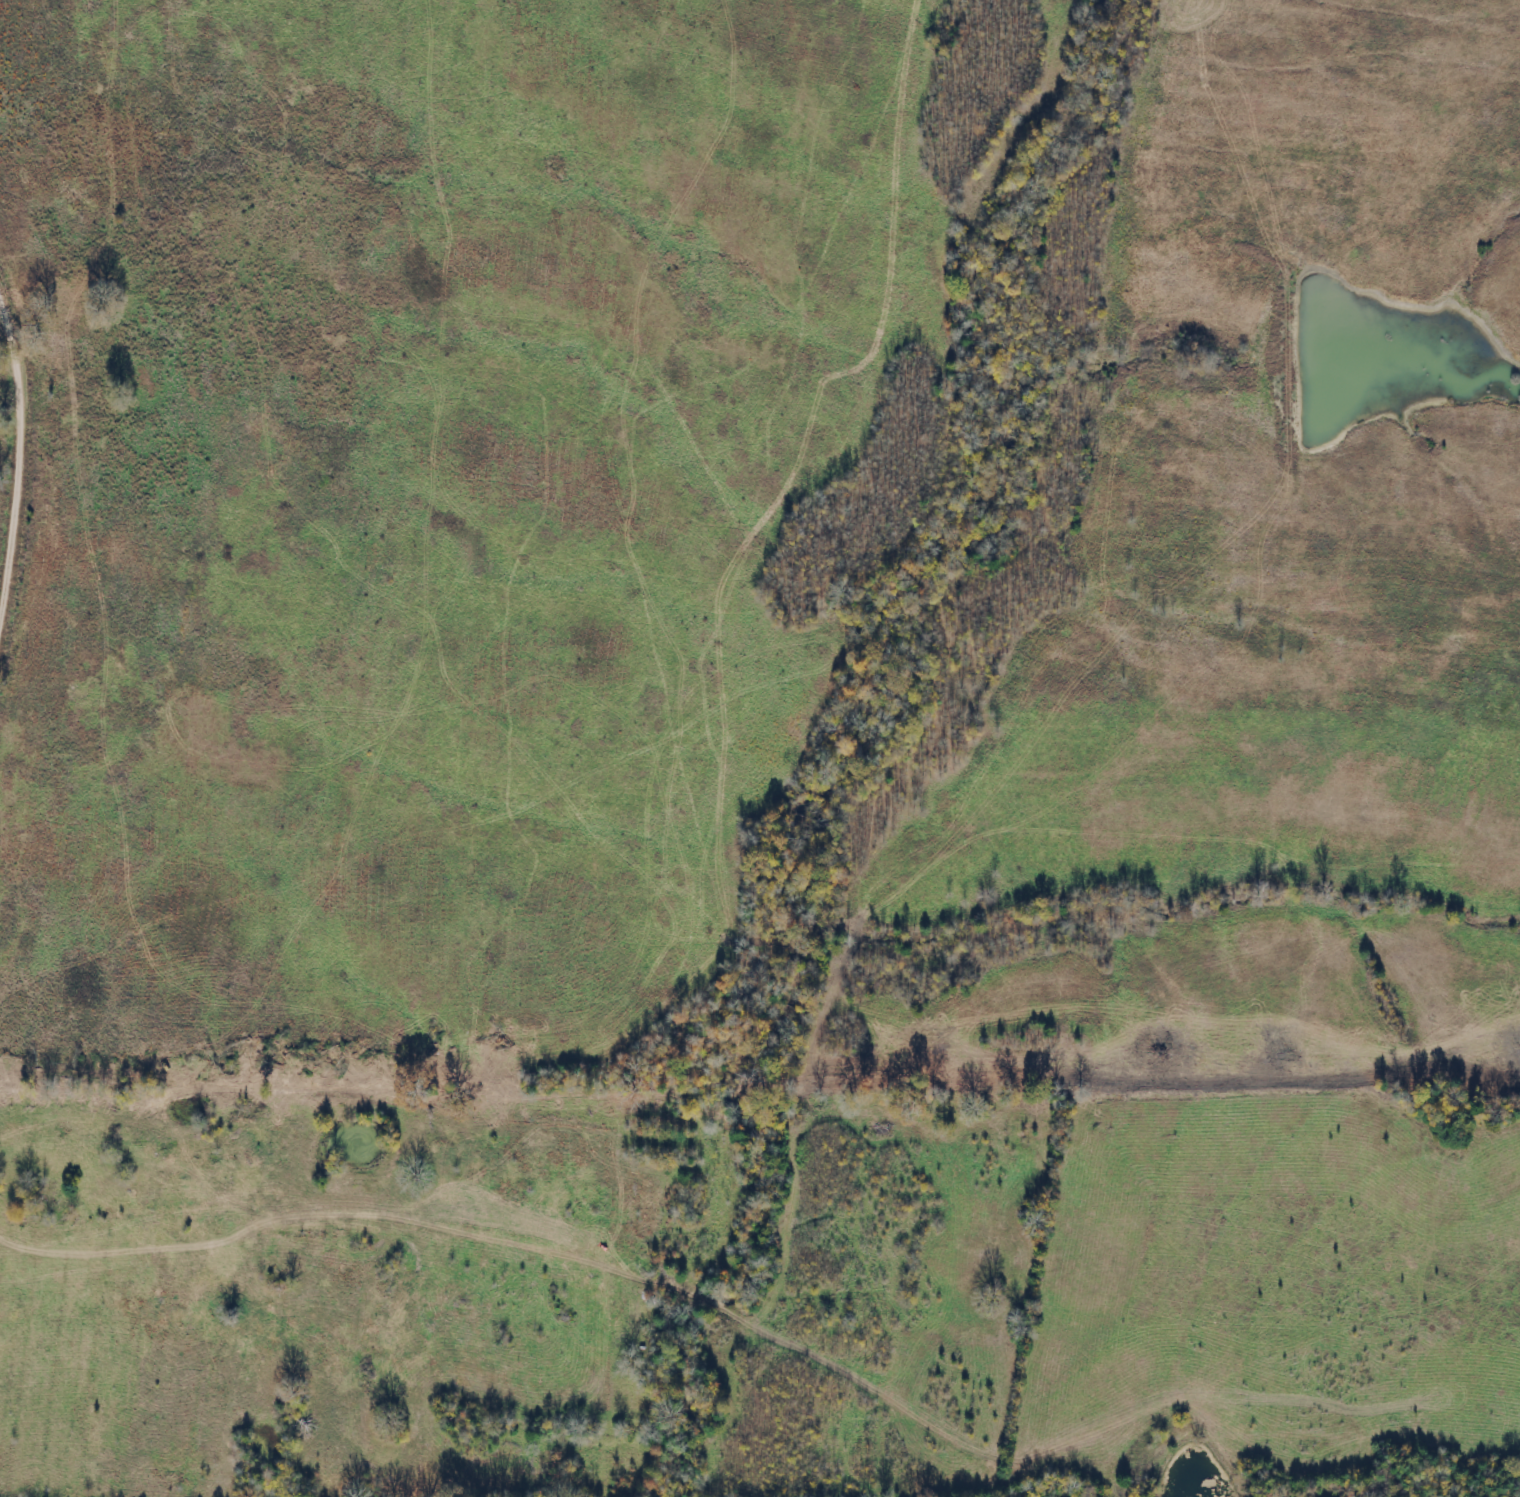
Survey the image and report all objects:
road: (12, 357)
road: (25, 472)

